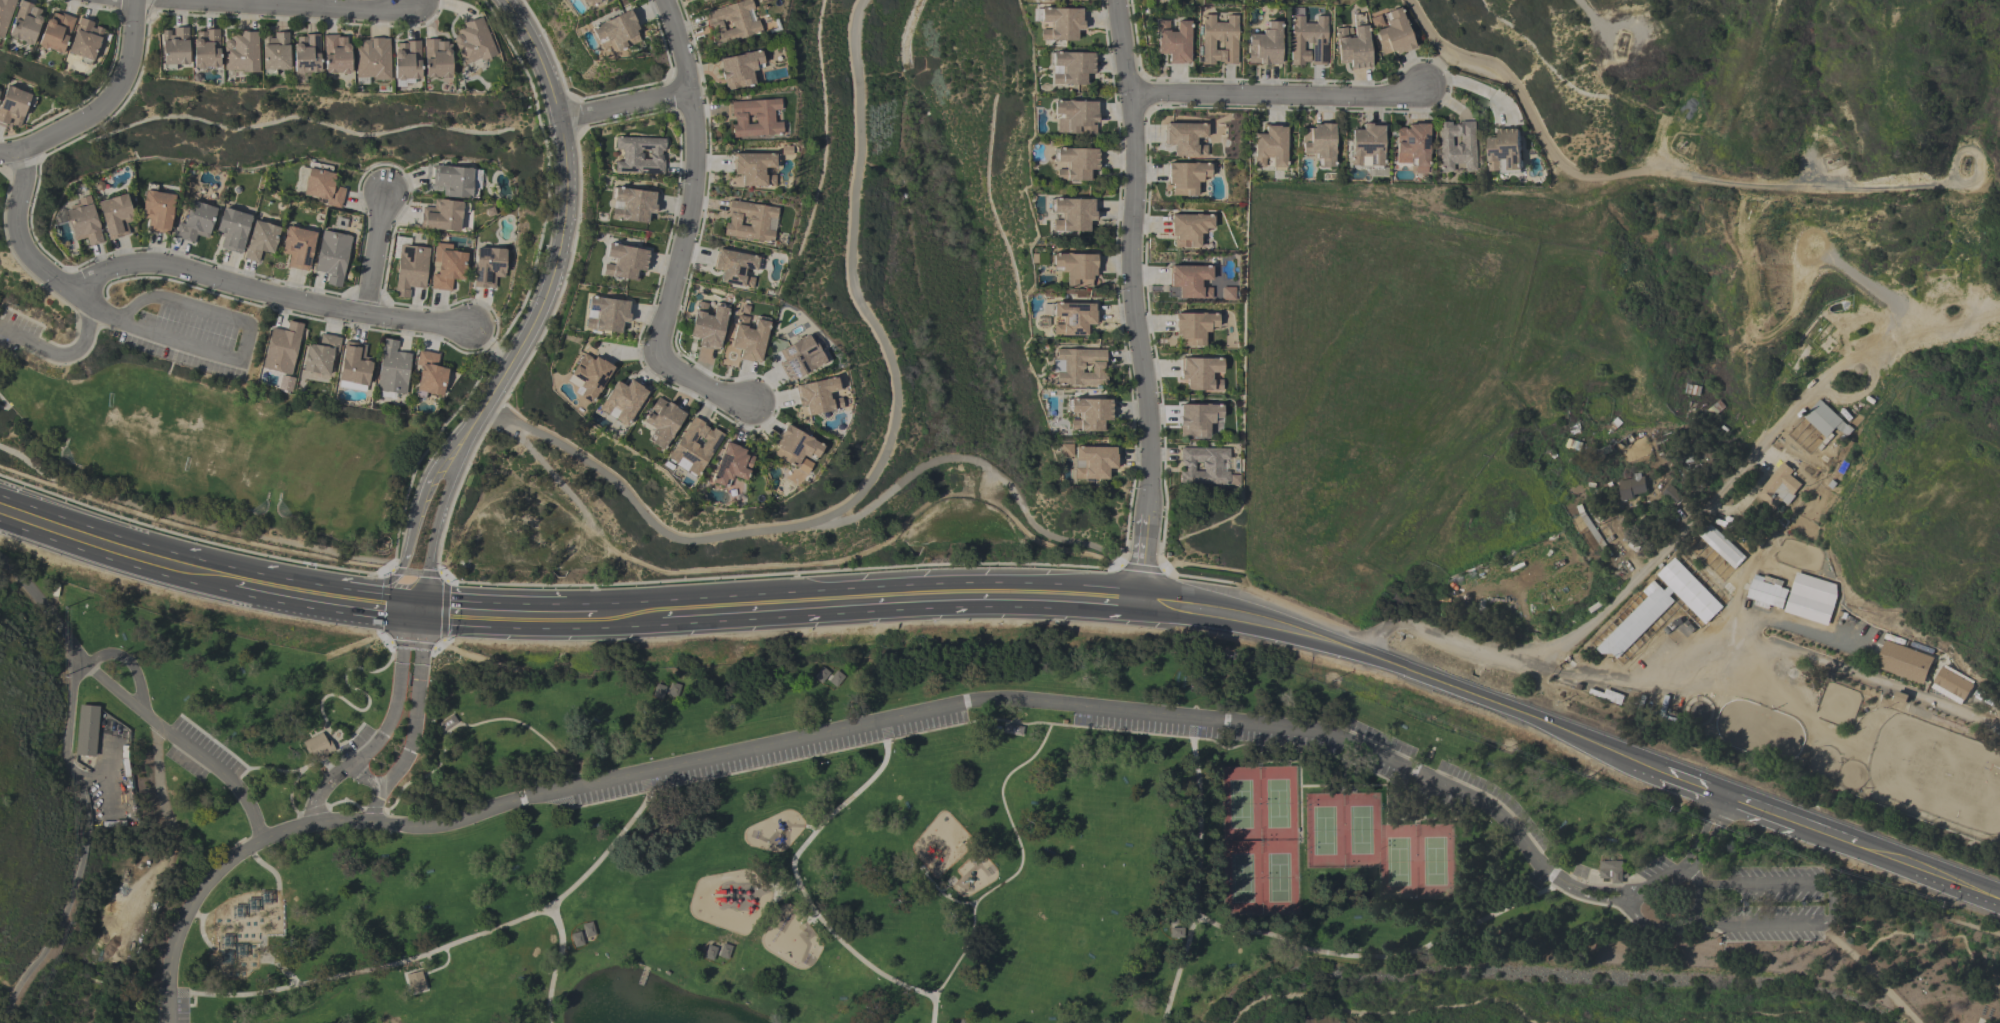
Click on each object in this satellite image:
building: (1155, 0)
building: (708, 1)
building: (1060, 1)
road: (294, 8)
road: (1591, 19)
building: (736, 24)
building: (1064, 25)
building: (623, 34)
building: (1392, 37)
building: (479, 42)
building: (1173, 43)
building: (1217, 43)
building: (1305, 44)
road: (548, 47)
building: (180, 48)
building: (1264, 48)
building: (211, 50)
building: (1351, 51)
building: (245, 53)
building: (279, 53)
building: (311, 55)
building: (340, 56)
road: (541, 57)
road: (1441, 59)
building: (442, 60)
building: (375, 61)
building: (411, 62)
building: (1073, 70)
building: (744, 71)
road: (1473, 88)
road: (1143, 93)
road: (1277, 95)
road: (111, 97)
road: (1639, 103)
road: (628, 106)
road: (1243, 108)
road: (574, 114)
building: (1078, 118)
building: (758, 120)
building: (1187, 141)
building: (1321, 146)
building: (1416, 147)
building: (1370, 148)
building: (1458, 149)
building: (1272, 150)
building: (1508, 152)
road: (11, 154)
building: (645, 157)
petroleum well: (1831, 160)
petroleum well: (1964, 163)
building: (1077, 166)
building: (756, 171)
road: (1663, 175)
building: (1186, 180)
building: (451, 183)
building: (320, 190)
building: (642, 206)
building: (160, 213)
building: (1075, 216)
building: (119, 218)
building: (440, 219)
building: (750, 223)
building: (197, 225)
road: (687, 230)
building: (233, 232)
building: (1190, 232)
building: (261, 243)
road: (24, 249)
building: (297, 250)
road: (370, 256)
building: (331, 259)
building: (633, 263)
building: (447, 268)
building: (489, 269)
building: (736, 270)
building: (409, 271)
building: (1076, 271)
building: (1194, 284)
road: (1115, 290)
road: (265, 294)
road: (547, 299)
road: (1133, 301)
road: (198, 312)
building: (615, 314)
building: (1075, 320)
building: (708, 328)
road: (1, 330)
building: (1196, 330)
parking lot: (19, 334)
parking lot: (187, 334)
road: (168, 336)
building: (750, 340)
building: (282, 350)
road: (61, 355)
building: (321, 357)
road: (7, 406)
park: (191, 412)
building: (1717, 412)
building: (1828, 422)
road: (881, 446)
road: (978, 464)
road: (553, 477)
road: (984, 484)
building: (1633, 491)
building: (1673, 497)
road: (420, 505)
road: (188, 521)
road: (59, 529)
road: (435, 532)
road: (198, 539)
road: (174, 565)
road: (1141, 568)
road: (413, 572)
road: (317, 573)
road: (533, 584)
road: (1625, 591)
road: (306, 593)
road: (1010, 597)
road: (400, 607)
road: (735, 609)
road: (443, 610)
road: (1302, 610)
road: (44, 612)
road: (490, 612)
road: (579, 614)
road: (410, 622)
road: (1751, 622)
road: (383, 638)
road: (411, 643)
road: (439, 644)
road: (1749, 659)
road: (129, 664)
road: (1406, 669)
building: (659, 693)
road: (368, 709)
road: (415, 720)
road: (1002, 720)
building: (1062, 721)
building: (447, 724)
parking lot: (925, 724)
road: (527, 728)
building: (1012, 729)
building: (86, 730)
road: (811, 736)
road: (381, 742)
road: (184, 744)
building: (315, 746)
parking lot: (199, 753)
parking lot: (767, 757)
road: (265, 769)
road: (297, 779)
toll booth: (330, 779)
road: (366, 780)
road: (417, 781)
road: (1692, 786)
parking lot: (605, 793)
road: (344, 804)
park: (1277, 805)
park: (1240, 806)
road: (166, 814)
road: (1775, 817)
road: (812, 826)
park: (1323, 833)
park: (1360, 833)
park: (855, 841)
road: (83, 848)
road: (1693, 859)
park: (1397, 863)
park: (1434, 863)
road: (1913, 864)
road: (1019, 865)
road: (1194, 872)
building: (1612, 874)
park: (1241, 879)
park: (1278, 879)
road: (945, 886)
street lamp: (986, 887)
road: (1589, 889)
road: (940, 895)
road: (1584, 896)
road: (805, 897)
road: (1634, 900)
road: (1831, 903)
road: (1911, 906)
road: (809, 918)
road: (1465, 928)
road: (1684, 928)
building: (588, 929)
road: (1936, 938)
building: (576, 940)
road: (437, 952)
building: (713, 952)
road: (555, 965)
road: (1871, 973)
pier: (641, 976)
building: (415, 982)
parking lot: (173, 1010)
building: (961, 1021)

